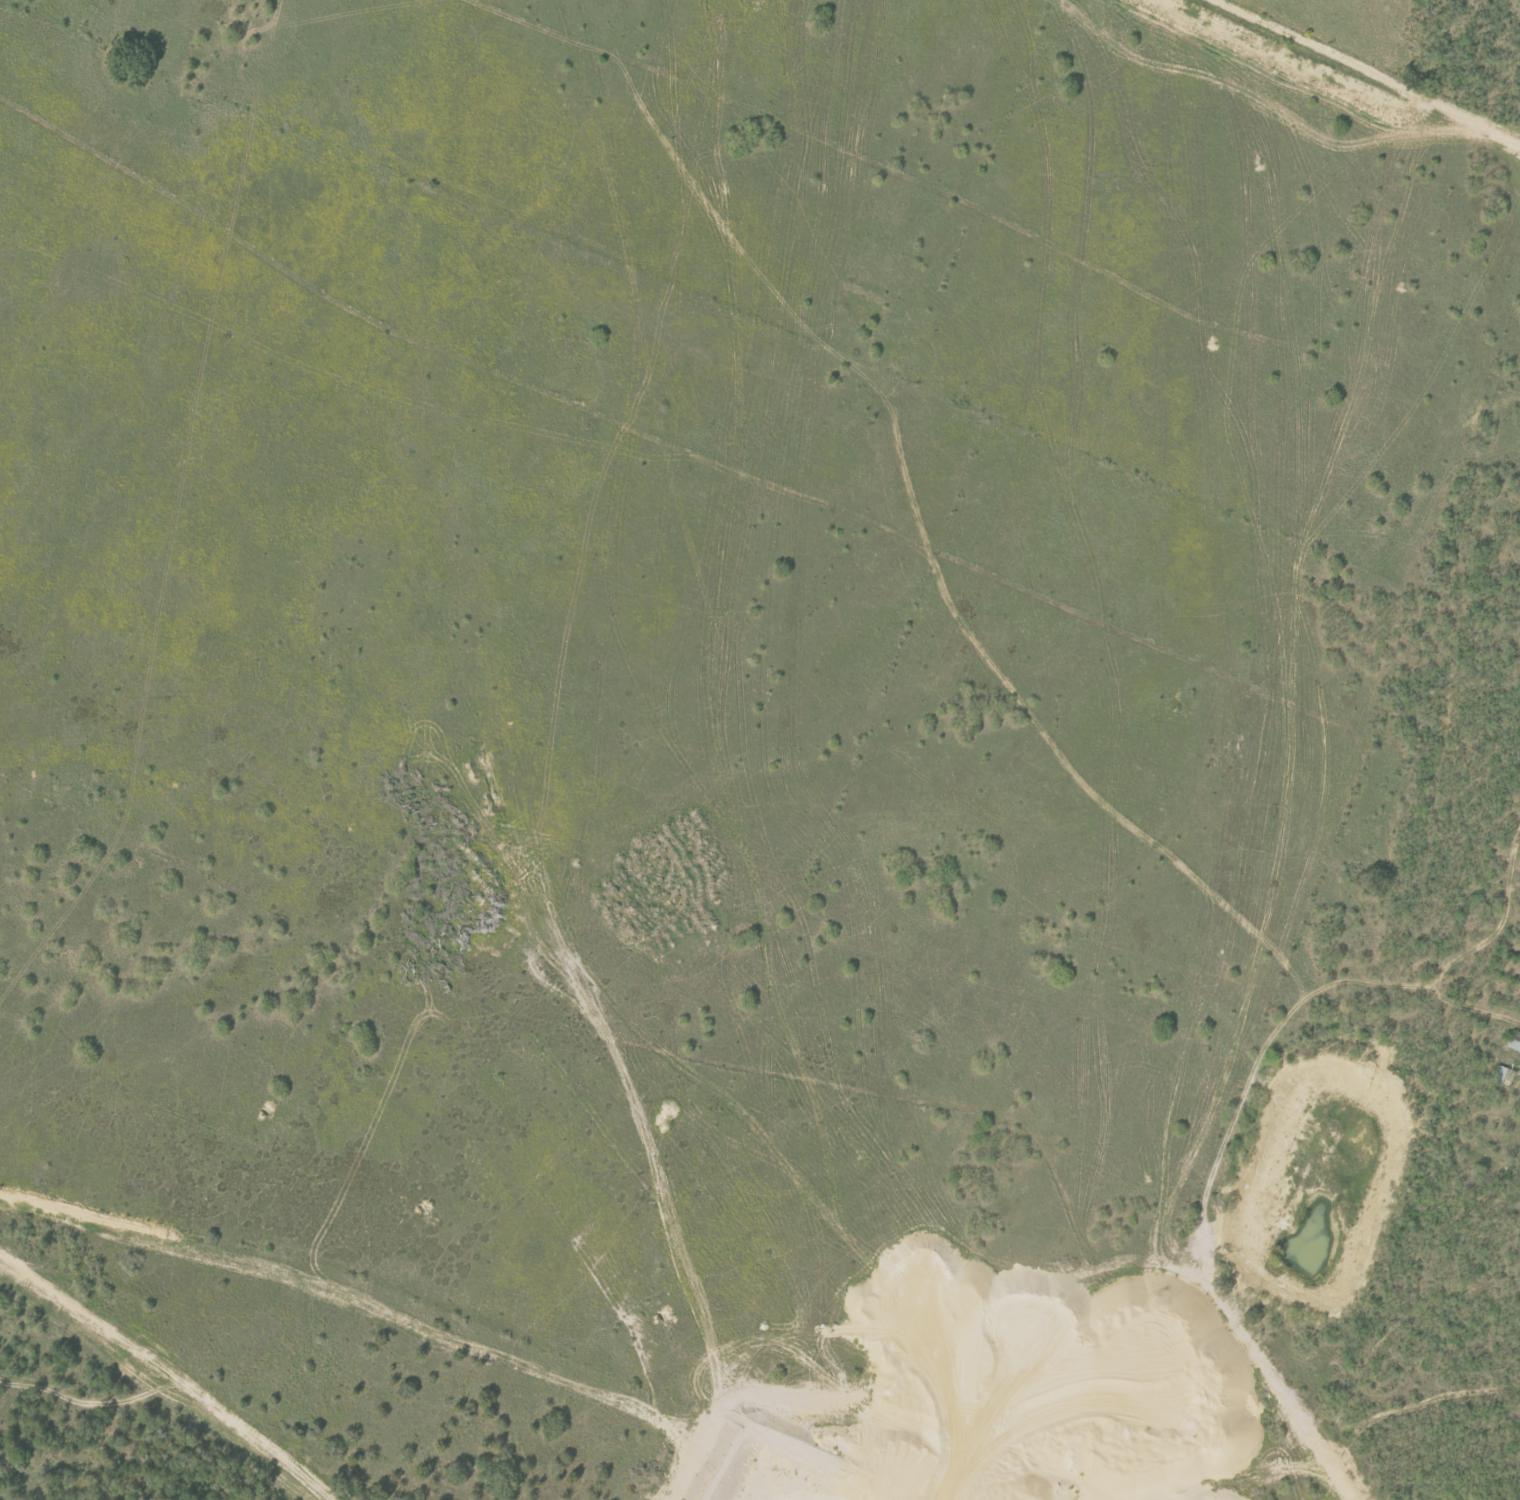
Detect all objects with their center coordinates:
building: (1503, 1075)

